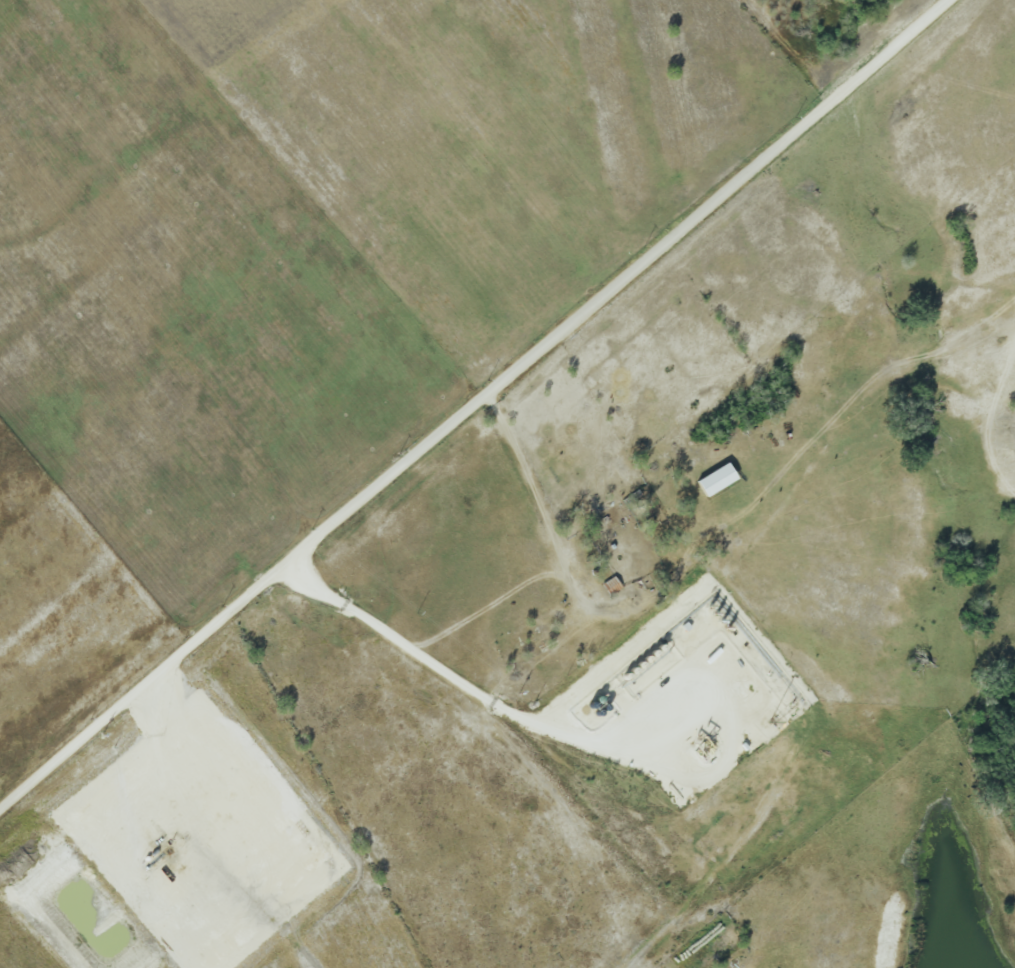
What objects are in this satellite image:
road: (473, 404)
building: (716, 480)
road: (429, 651)
petroleum well: (699, 737)

